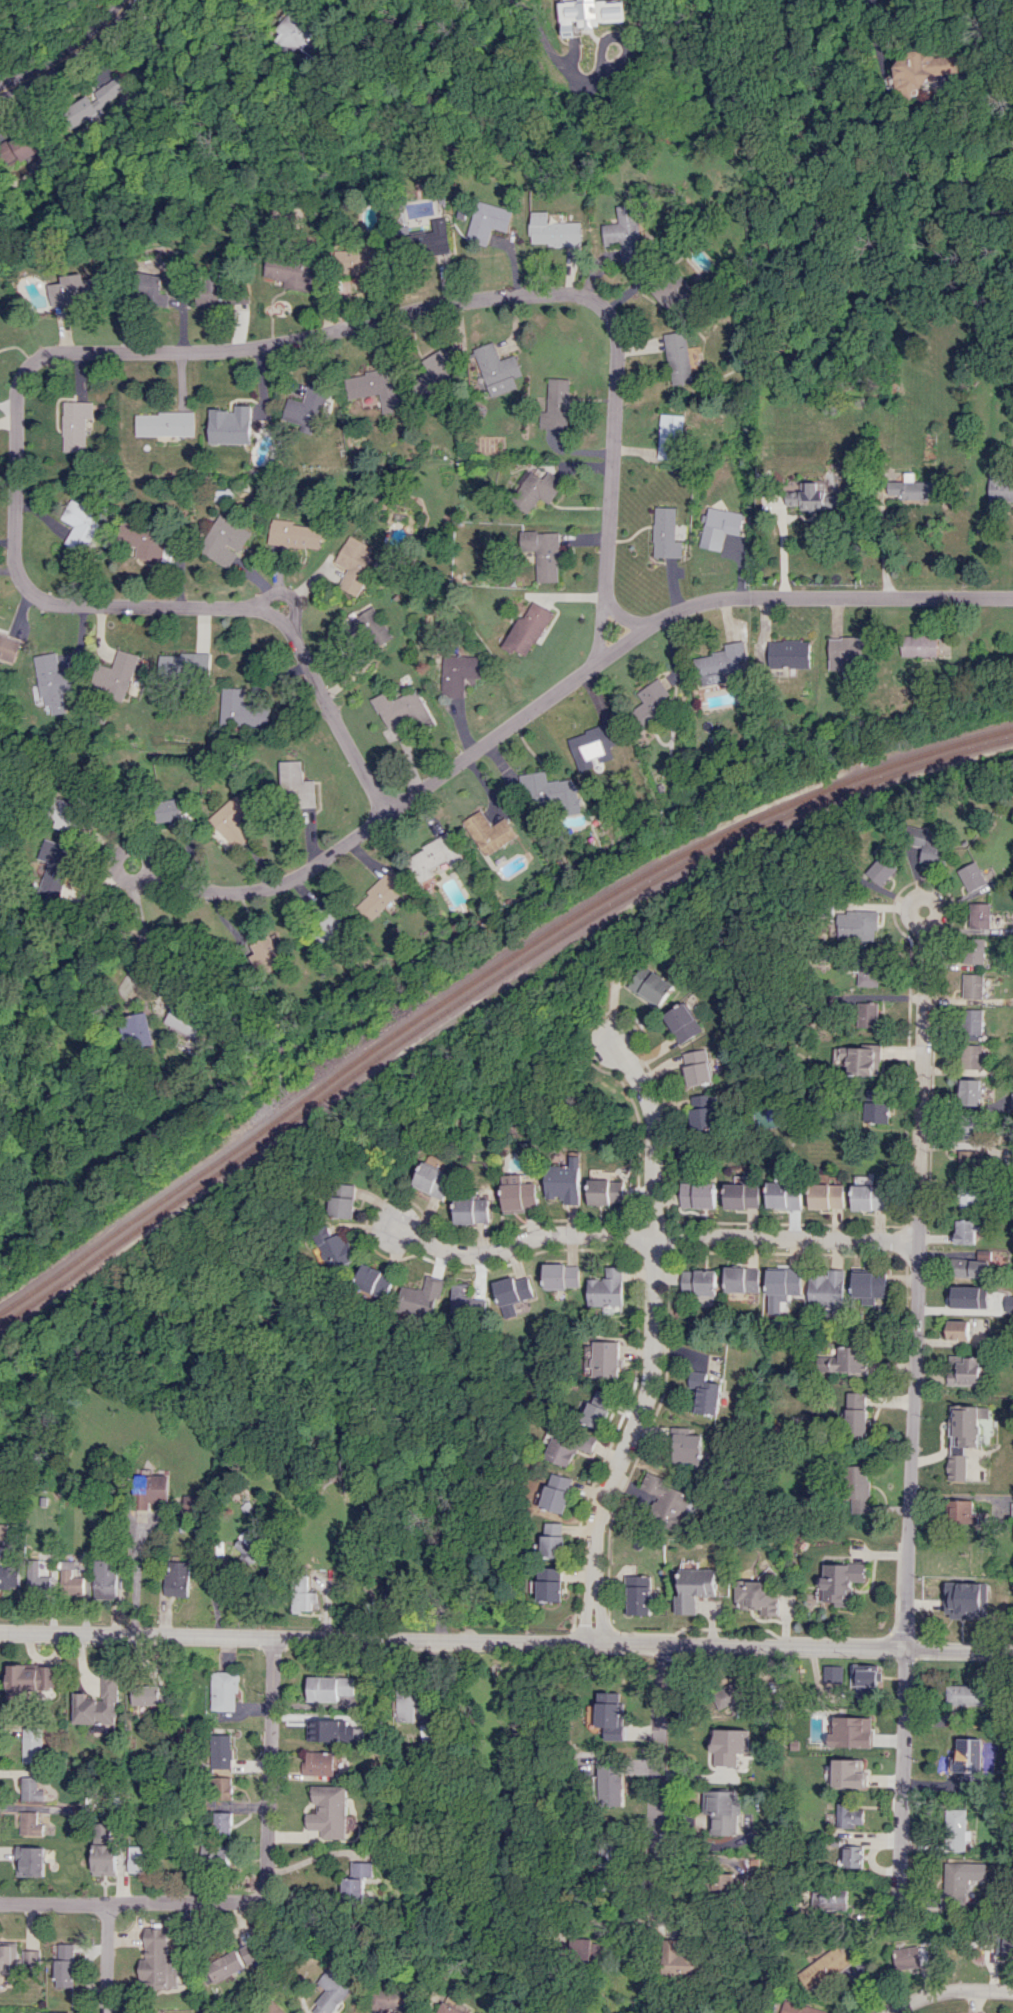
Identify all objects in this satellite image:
road: (526, 3)
building: (593, 14)
building: (300, 34)
road: (69, 53)
road: (241, 62)
road: (568, 70)
building: (922, 70)
road: (886, 87)
building: (95, 101)
building: (30, 145)
building: (487, 221)
building: (552, 230)
building: (625, 233)
building: (425, 236)
building: (364, 258)
building: (286, 271)
building: (78, 290)
building: (157, 291)
building: (672, 292)
building: (43, 298)
road: (143, 351)
building: (678, 357)
building: (495, 370)
building: (434, 372)
building: (374, 387)
building: (556, 404)
building: (305, 407)
building: (74, 424)
building: (163, 424)
building: (229, 425)
building: (669, 436)
building: (913, 488)
building: (534, 489)
building: (815, 497)
building: (79, 524)
building: (719, 526)
building: (665, 533)
building: (293, 534)
building: (223, 541)
building: (145, 542)
building: (542, 553)
building: (354, 564)
road: (284, 593)
road: (621, 614)
building: (372, 627)
building: (528, 628)
building: (924, 645)
building: (8, 647)
building: (847, 651)
building: (788, 653)
building: (720, 663)
building: (186, 664)
building: (459, 673)
building: (118, 675)
building: (55, 682)
road: (558, 690)
building: (652, 702)
building: (404, 708)
building: (243, 709)
building: (594, 742)
building: (299, 783)
building: (552, 790)
building: (170, 810)
building: (65, 813)
building: (233, 819)
building: (487, 832)
building: (927, 846)
building: (433, 856)
building: (56, 868)
building: (881, 870)
road: (120, 874)
building: (971, 876)
building: (379, 896)
road: (938, 903)
building: (980, 915)
building: (858, 925)
building: (331, 932)
road: (141, 934)
building: (974, 950)
building: (265, 954)
building: (868, 970)
railway: (483, 975)
building: (973, 985)
building: (651, 986)
railway: (484, 987)
building: (867, 1014)
building: (973, 1021)
building: (682, 1022)
building: (181, 1023)
building: (135, 1026)
building: (972, 1056)
building: (864, 1060)
building: (697, 1067)
building: (971, 1091)
building: (1012, 1101)
building: (877, 1106)
building: (703, 1113)
building: (969, 1127)
building: (968, 1162)
building: (432, 1180)
building: (565, 1181)
building: (606, 1191)
building: (519, 1192)
building: (699, 1194)
building: (784, 1195)
building: (827, 1195)
building: (742, 1196)
building: (968, 1196)
building: (870, 1197)
building: (342, 1200)
building: (472, 1210)
building: (965, 1231)
road: (651, 1239)
building: (334, 1248)
building: (969, 1267)
building: (561, 1275)
building: (741, 1279)
building: (374, 1280)
building: (697, 1281)
building: (783, 1281)
building: (868, 1286)
building: (825, 1288)
building: (606, 1290)
building: (511, 1293)
building: (969, 1296)
building: (419, 1298)
building: (464, 1301)
building: (1009, 1303)
building: (958, 1329)
road: (650, 1339)
building: (606, 1358)
building: (843, 1360)
building: (966, 1371)
building: (704, 1395)
road: (912, 1405)
building: (597, 1408)
building: (857, 1413)
building: (962, 1438)
building: (567, 1445)
building: (686, 1447)
building: (151, 1488)
building: (860, 1488)
building: (559, 1492)
building: (665, 1500)
building: (1012, 1506)
building: (961, 1511)
building: (3, 1530)
building: (556, 1539)
building: (249, 1548)
building: (9, 1576)
road: (134, 1577)
building: (38, 1578)
building: (177, 1578)
building: (105, 1579)
building: (72, 1582)
building: (698, 1582)
building: (842, 1582)
building: (552, 1584)
building: (758, 1593)
building: (303, 1594)
building: (639, 1594)
building: (966, 1599)
road: (506, 1639)
building: (832, 1673)
building: (854, 1677)
building: (29, 1679)
building: (868, 1680)
building: (830, 1686)
building: (330, 1687)
building: (224, 1690)
building: (144, 1694)
building: (968, 1694)
building: (731, 1697)
building: (406, 1703)
building: (97, 1704)
building: (614, 1713)
building: (851, 1732)
building: (31, 1745)
building: (732, 1746)
building: (967, 1759)
building: (319, 1763)
building: (222, 1766)
road: (266, 1768)
building: (848, 1773)
road: (649, 1781)
building: (615, 1784)
building: (30, 1789)
building: (723, 1810)
building: (330, 1811)
building: (848, 1815)
building: (222, 1822)
building: (29, 1823)
building: (955, 1830)
building: (104, 1850)
building: (217, 1855)
building: (849, 1855)
road: (310, 1857)
building: (139, 1859)
building: (30, 1861)
building: (615, 1867)
building: (357, 1880)
building: (963, 1881)
building: (731, 1885)
building: (829, 1899)
road: (130, 1902)
building: (1007, 1944)
building: (251, 1951)
building: (588, 1951)
building: (911, 1956)
building: (31, 1958)
road: (104, 1958)
building: (155, 1958)
building: (8, 1959)
building: (683, 1960)
building: (64, 1964)
building: (223, 1966)
building: (824, 1967)
road: (948, 1993)
building: (329, 1994)
building: (393, 2000)
building: (448, 2008)
building: (802, 2008)
building: (51, 2012)

